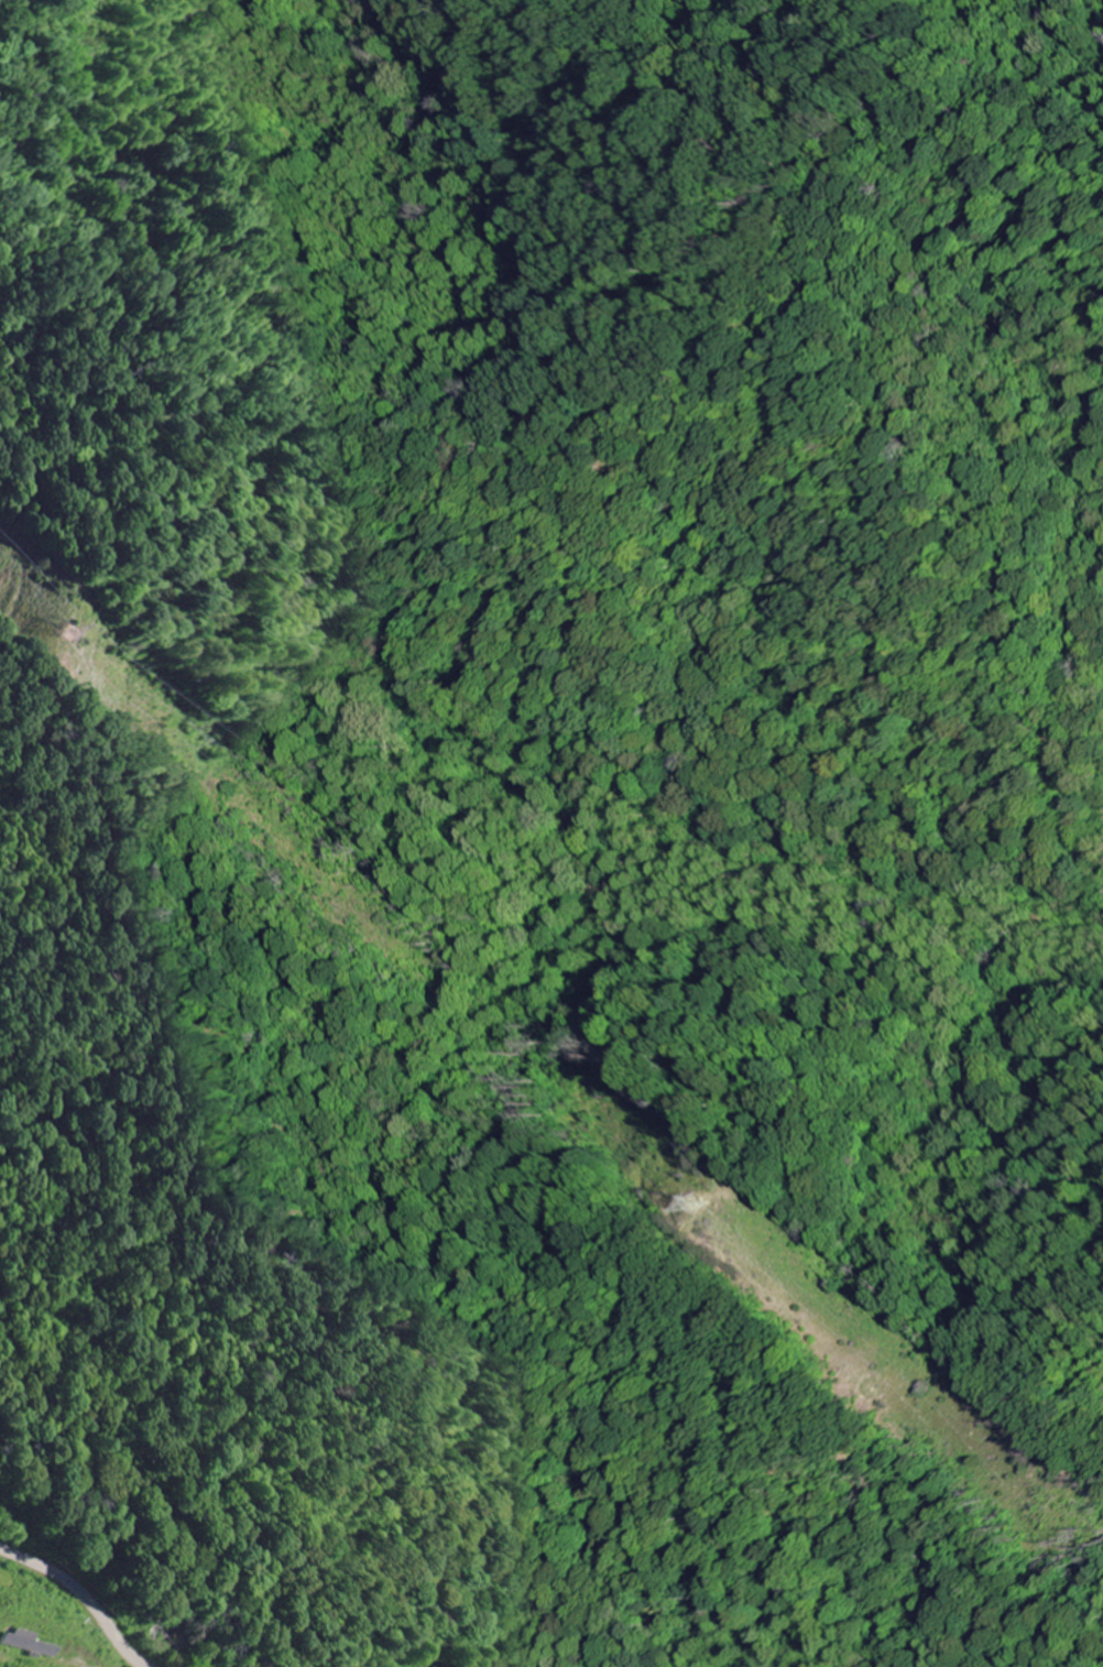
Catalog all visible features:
road: (87, 1592)

